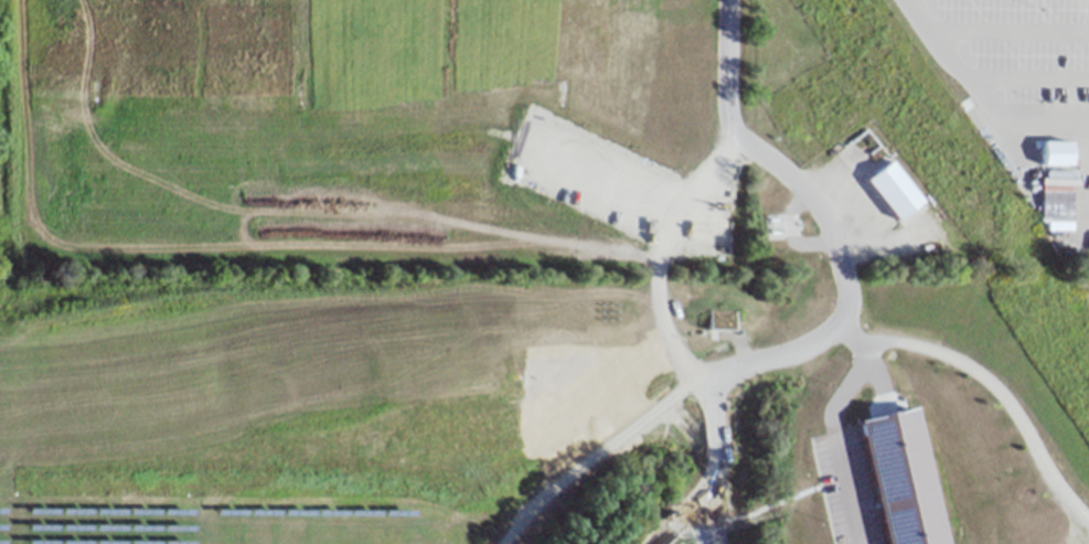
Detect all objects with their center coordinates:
road: (1006, 30)
road: (976, 98)
building: (889, 191)
building: (786, 250)
road: (847, 313)
road: (789, 348)
road: (831, 434)
building: (901, 478)
solar farm: (212, 522)
road: (707, 524)

